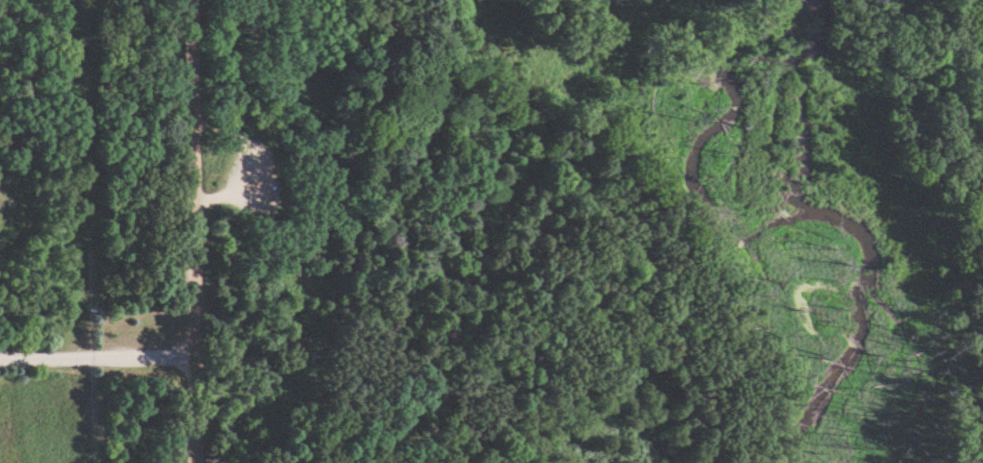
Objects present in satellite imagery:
road: (903, 11)
road: (803, 29)
road: (539, 122)
parking lot: (263, 173)
parking lot: (260, 174)
road: (240, 197)
building: (5, 215)
road: (189, 231)
road: (95, 354)
building: (78, 379)
road: (975, 457)

